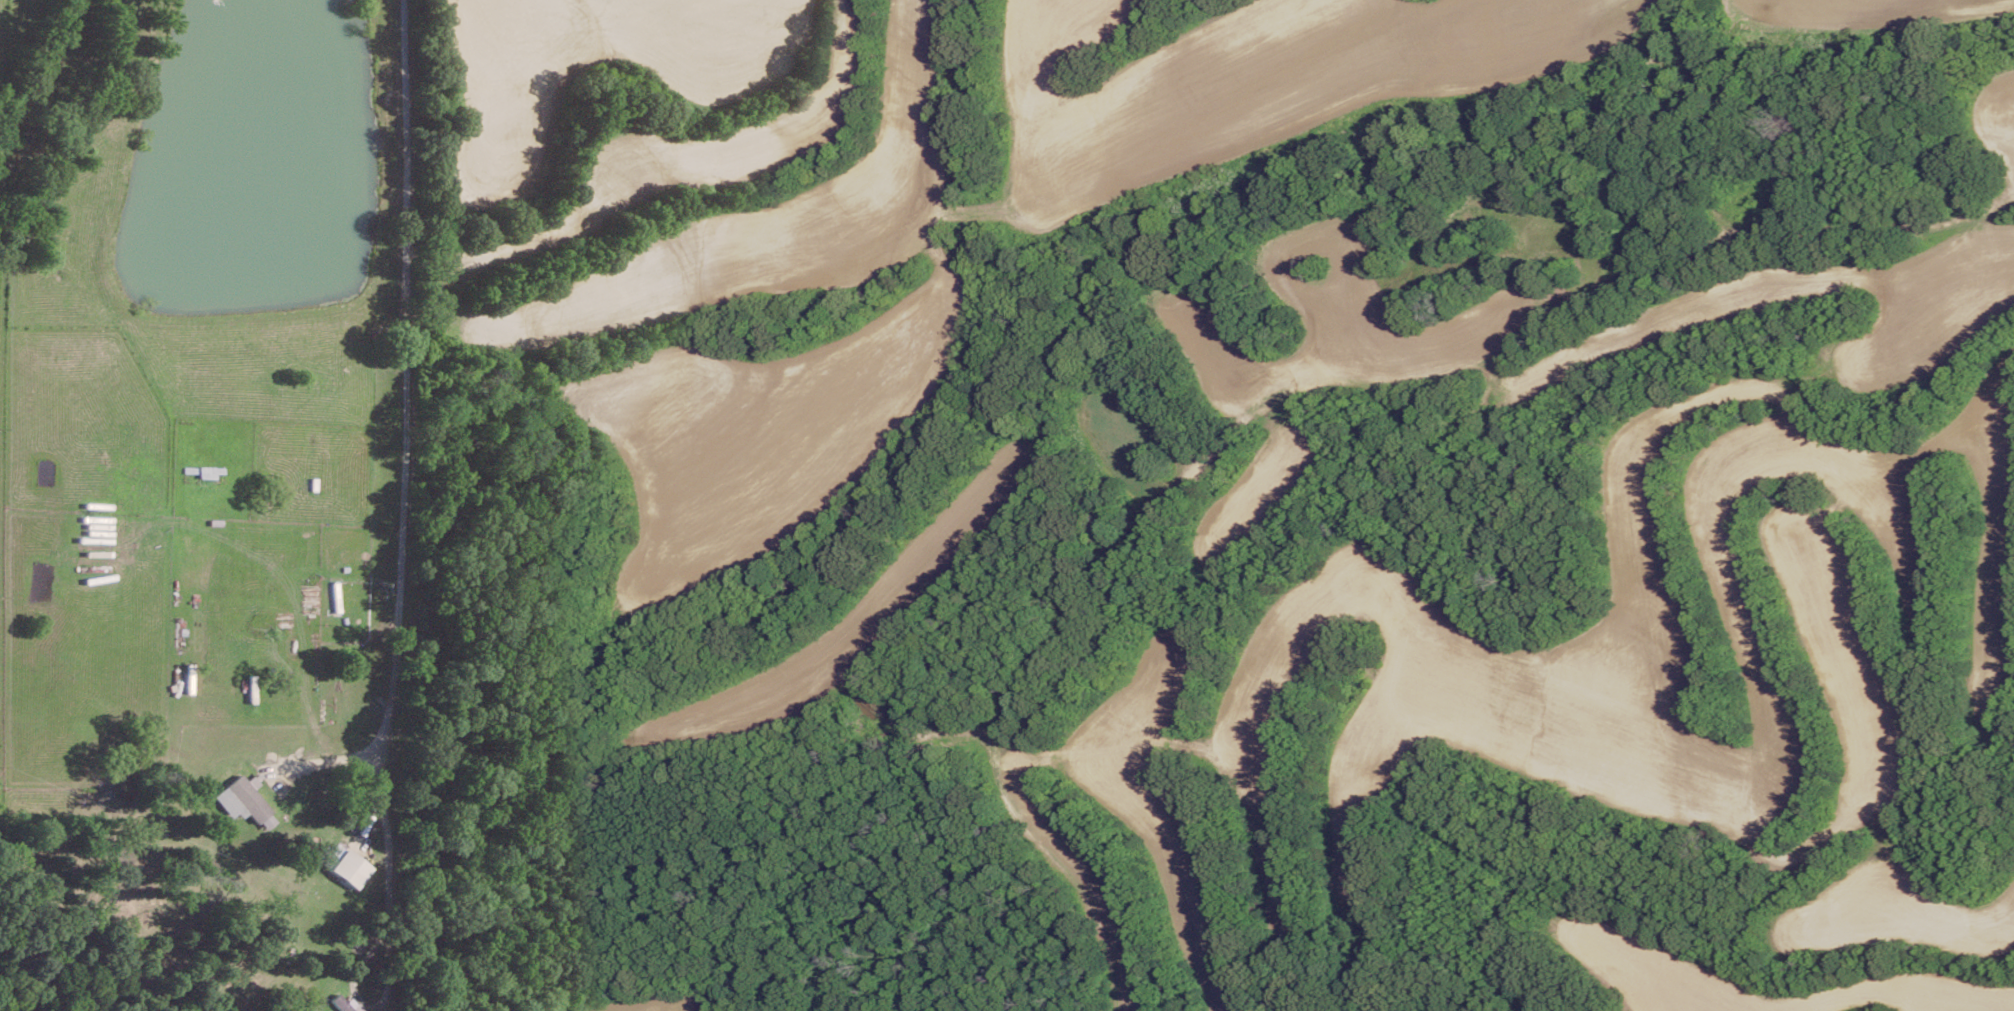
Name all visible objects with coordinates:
road: (402, 368)
road: (340, 754)
building: (247, 797)
road: (398, 854)
building: (341, 863)
building: (344, 1002)

